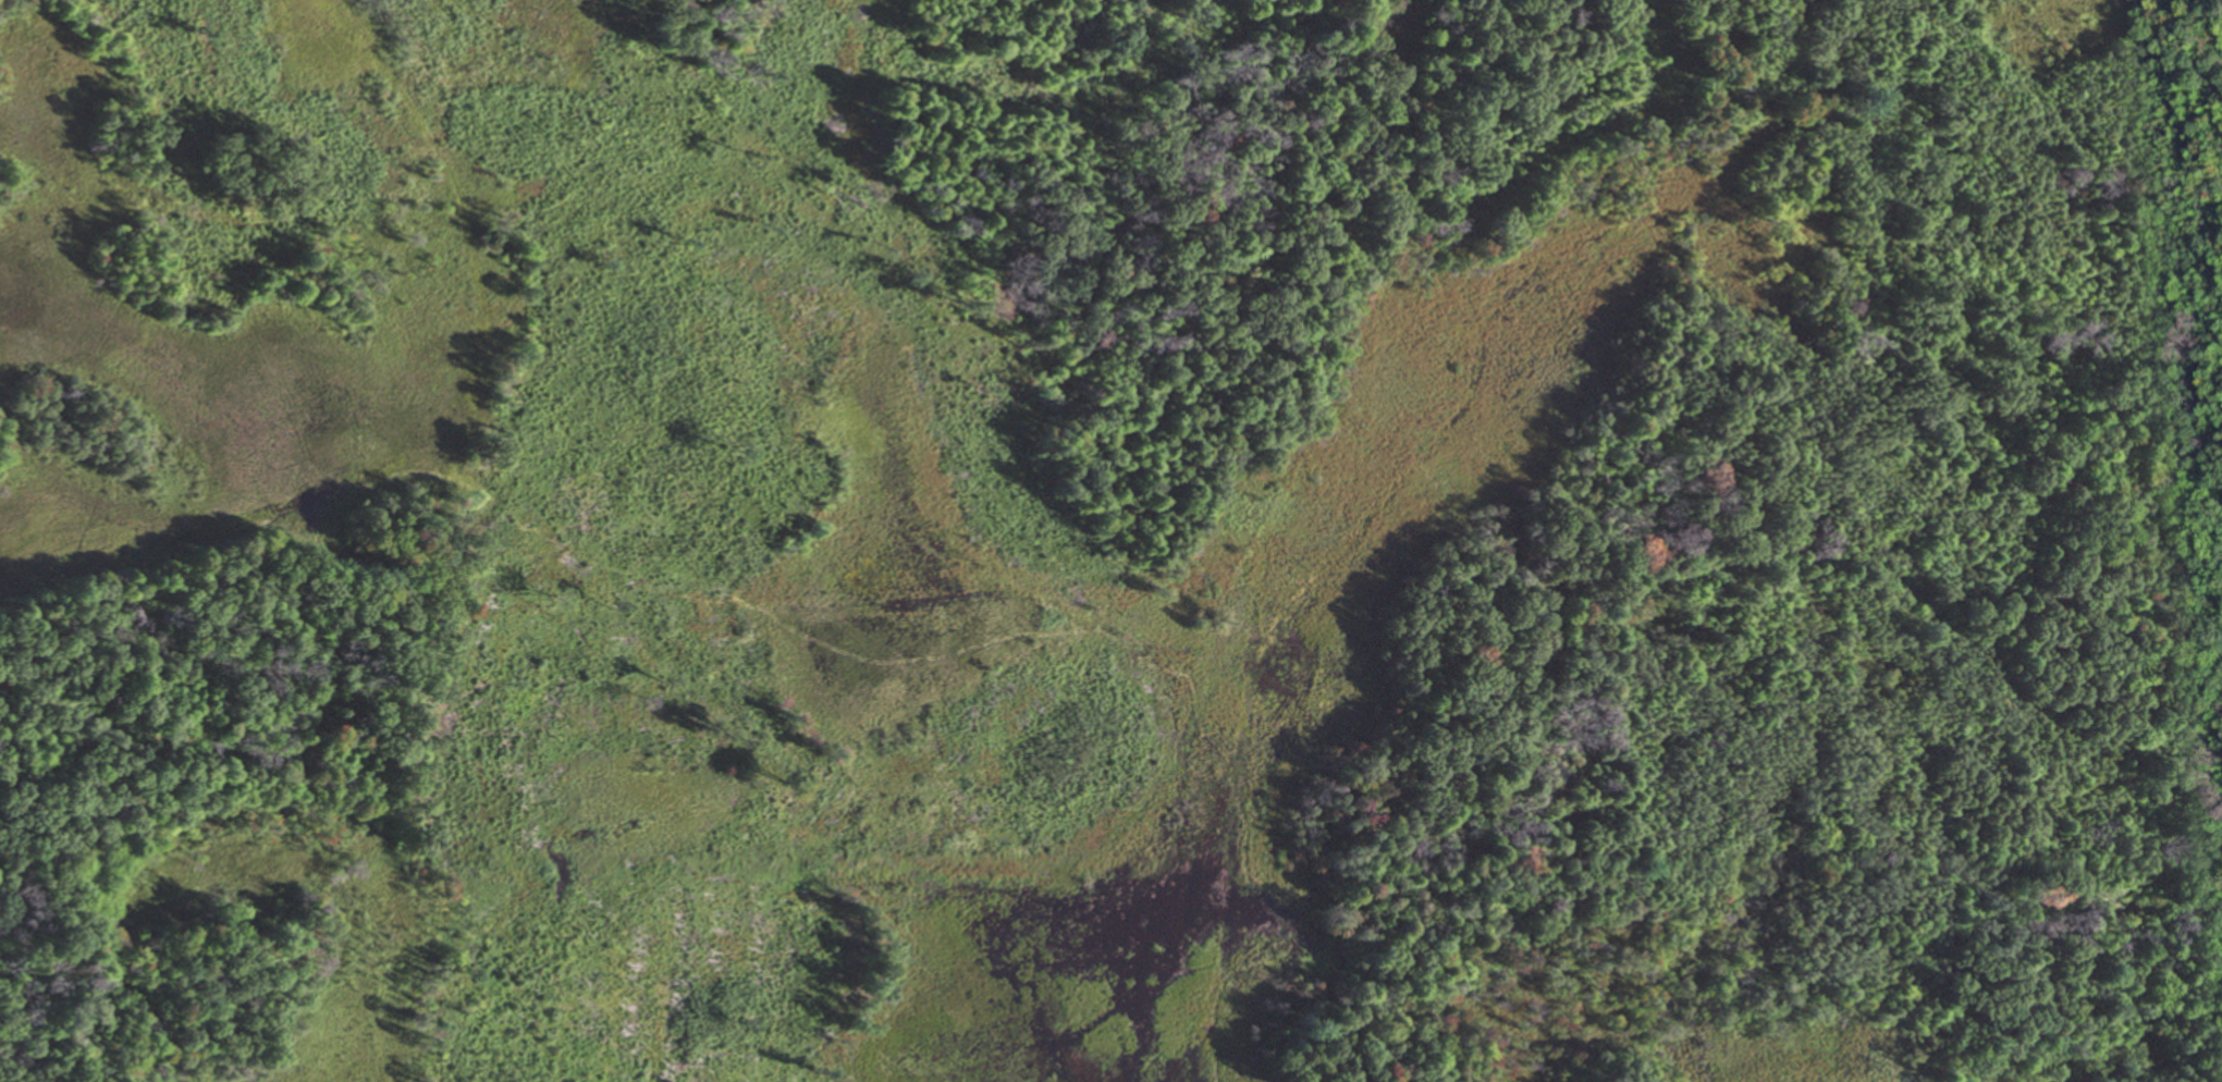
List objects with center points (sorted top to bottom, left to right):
road: (2218, 1066)

